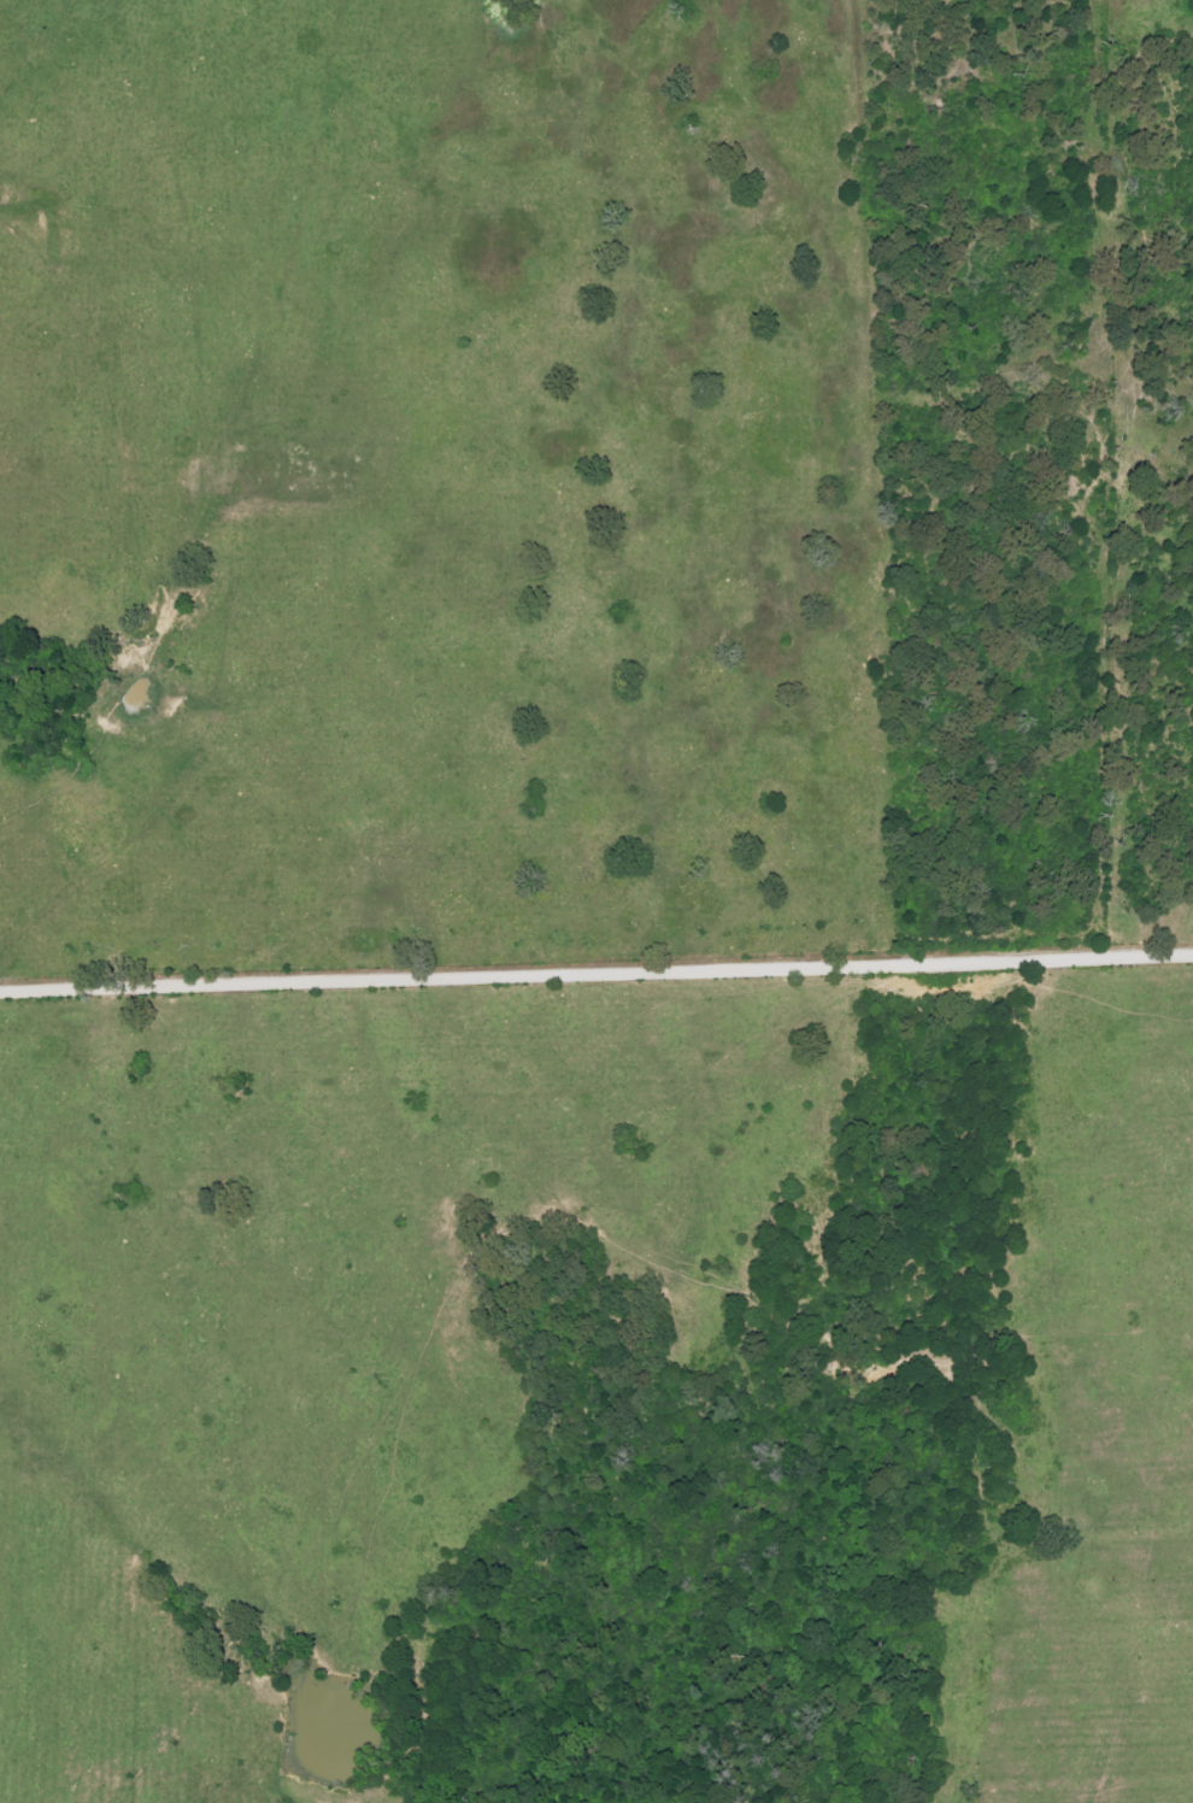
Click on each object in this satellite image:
road: (595, 947)

